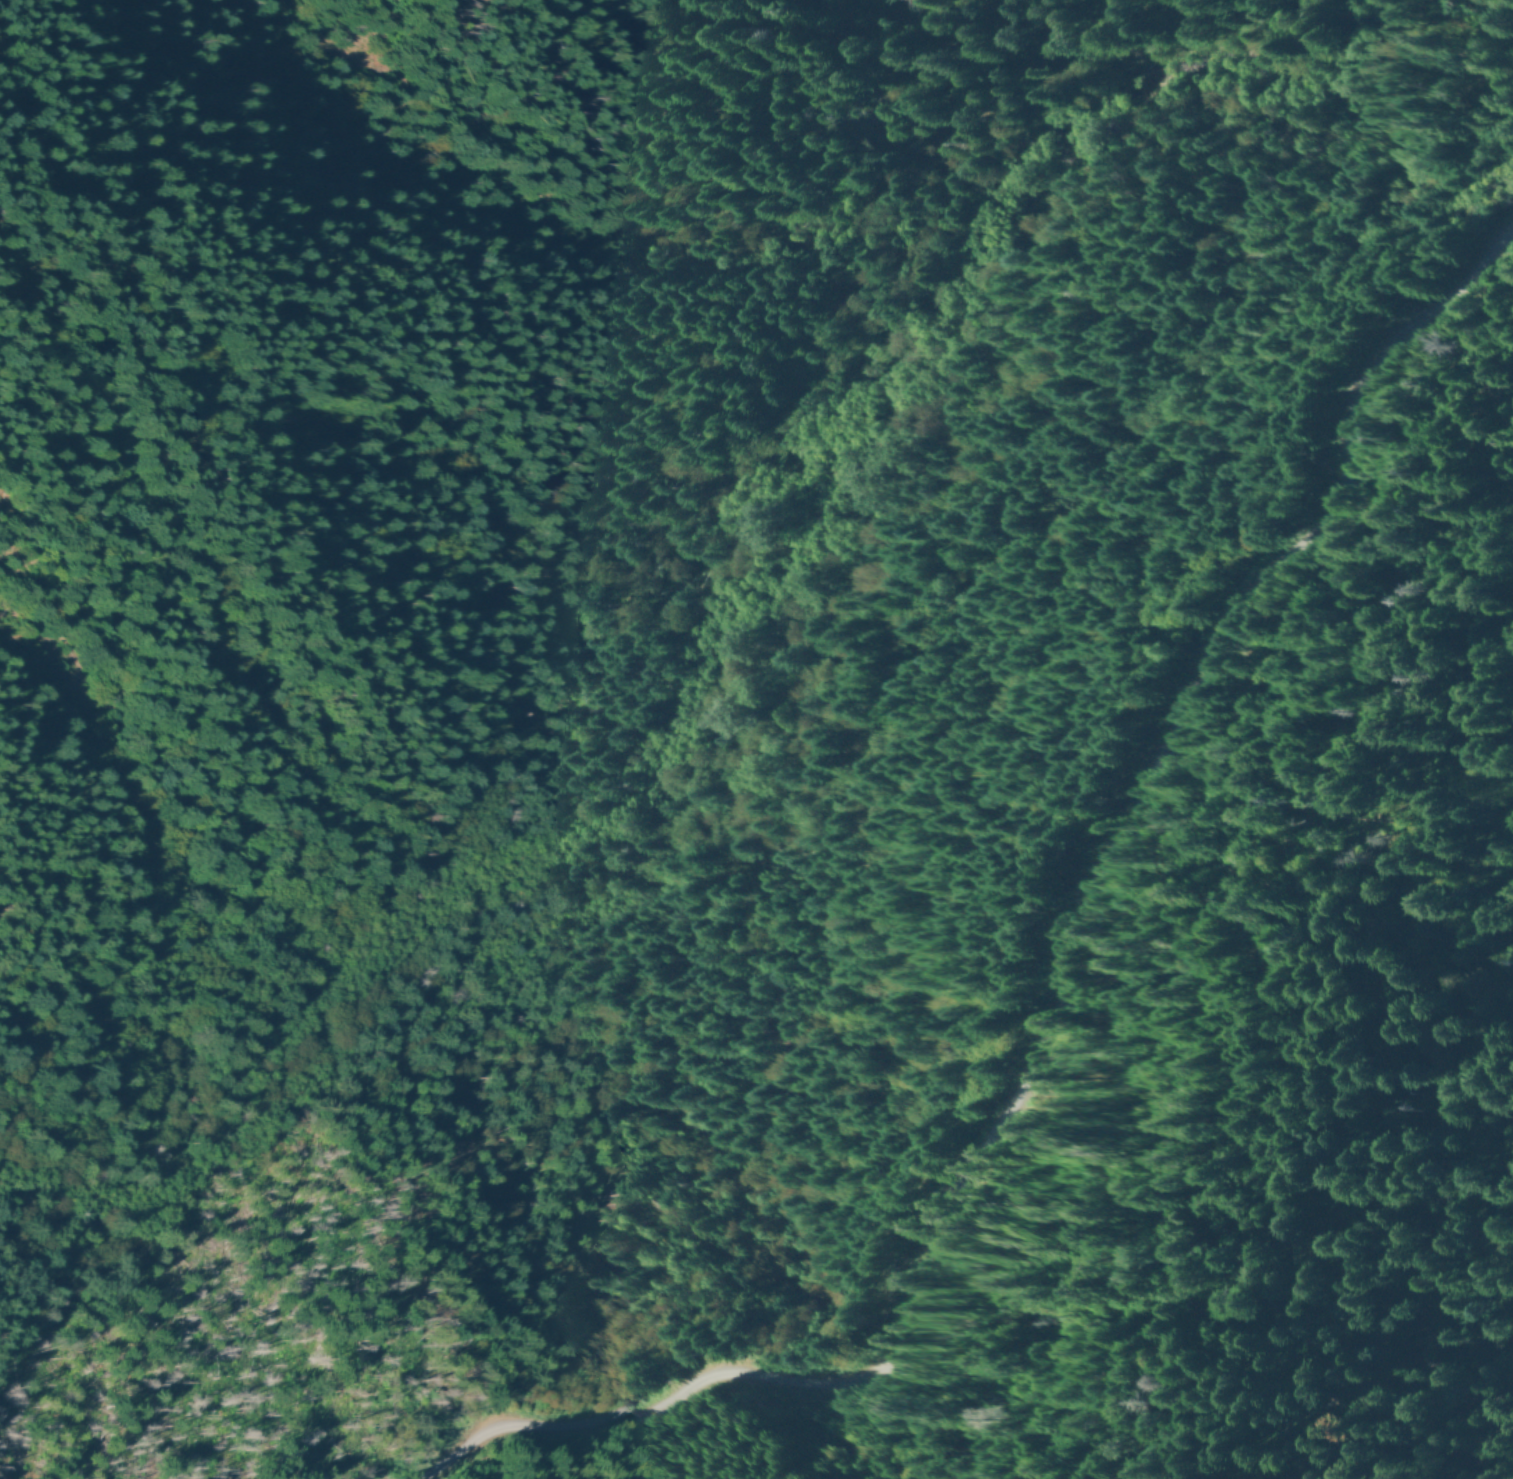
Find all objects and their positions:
road: (1039, 523)
road: (804, 677)
road: (1049, 981)

